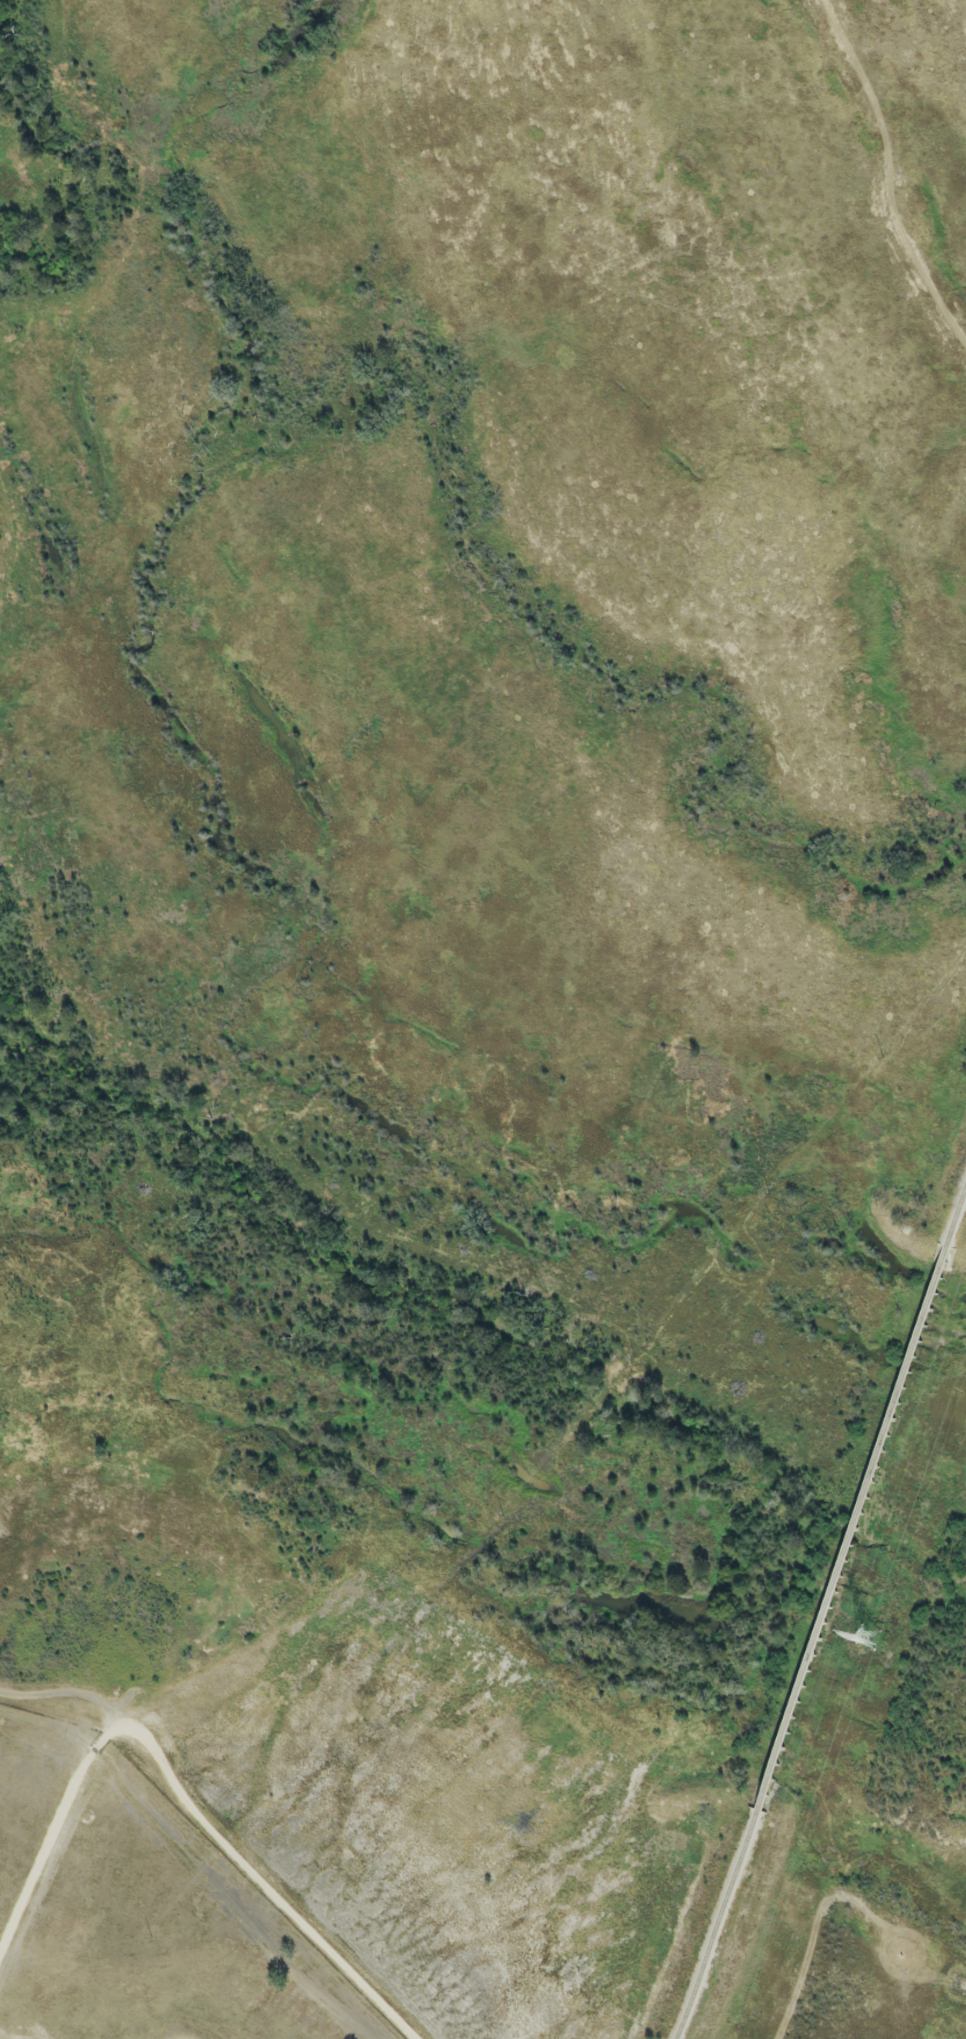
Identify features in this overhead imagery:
railway: (957, 1218)
railway: (854, 1525)
power tower: (867, 1636)
railway: (713, 1923)

